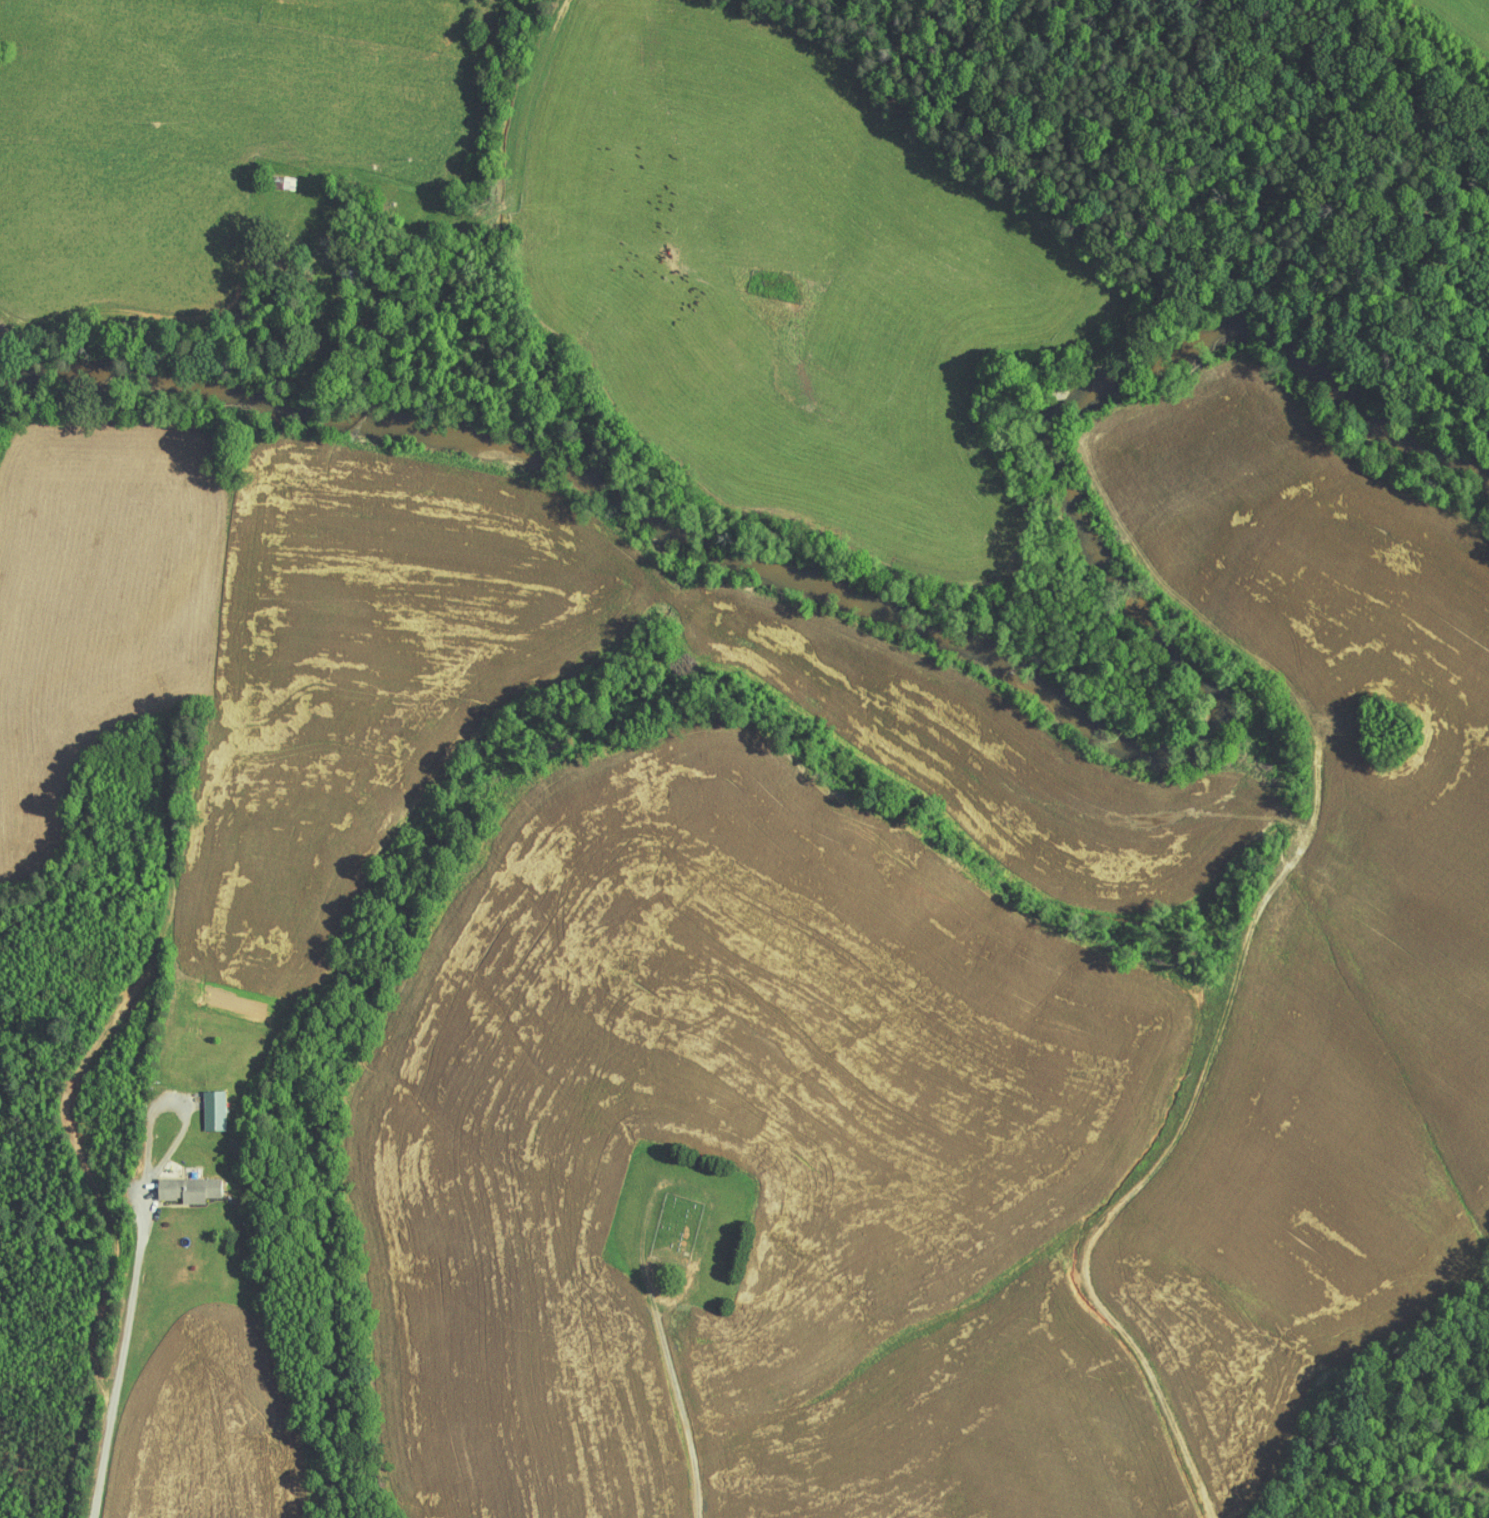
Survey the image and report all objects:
road: (355, 164)
river: (1015, 664)
road: (174, 1102)
building: (206, 1103)
building: (183, 1182)
road: (121, 1353)
road: (686, 1412)

